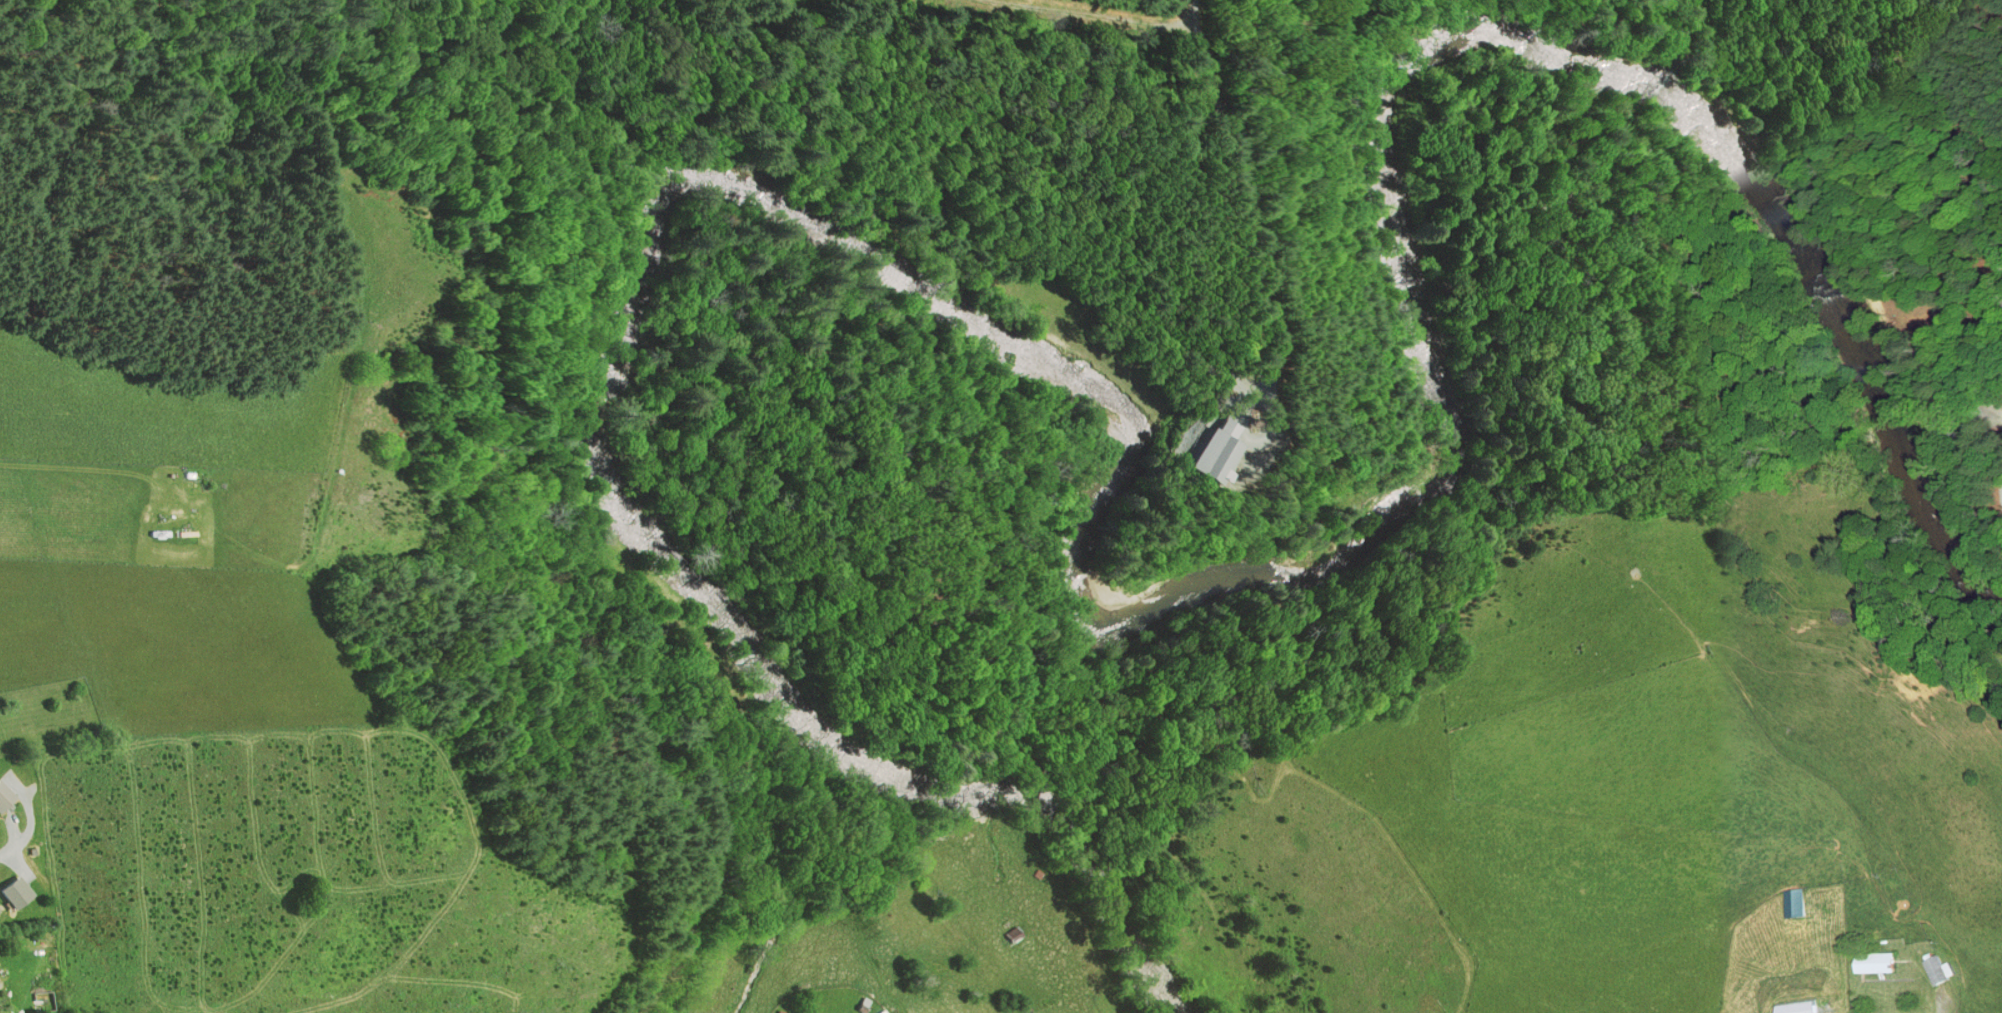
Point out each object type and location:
road: (1924, 6)
road: (1984, 9)
river: (1864, 328)
road: (1980, 330)
river: (602, 447)
road: (2000, 491)
river: (1304, 559)
river: (1033, 783)
building: (2, 796)
road: (12, 842)
building: (10, 893)
building: (1792, 903)
building: (1873, 963)
building: (1935, 970)
building: (1794, 1008)

